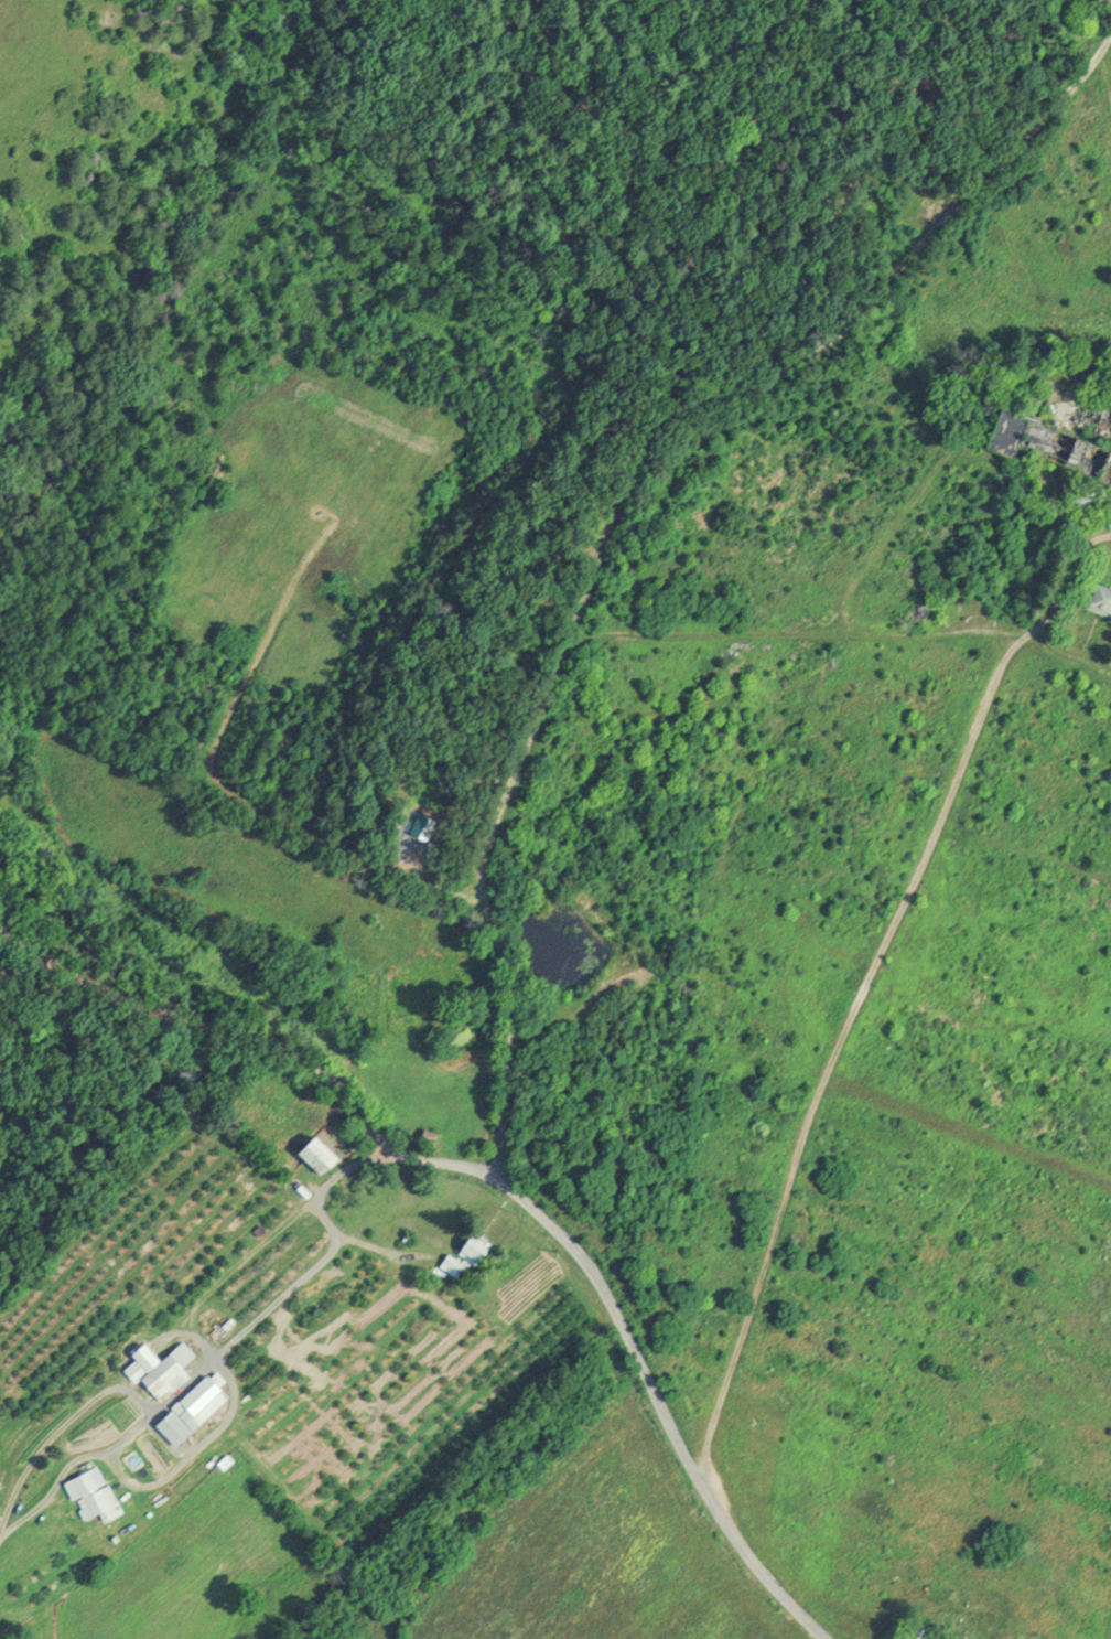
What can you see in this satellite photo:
building: (1079, 453)
road: (584, 559)
road: (876, 1011)
road: (279, 1052)
building: (323, 1158)
building: (467, 1255)
building: (158, 1369)
building: (192, 1410)
road: (671, 1433)
building: (90, 1497)
building: (2, 1520)
building: (913, 1631)

